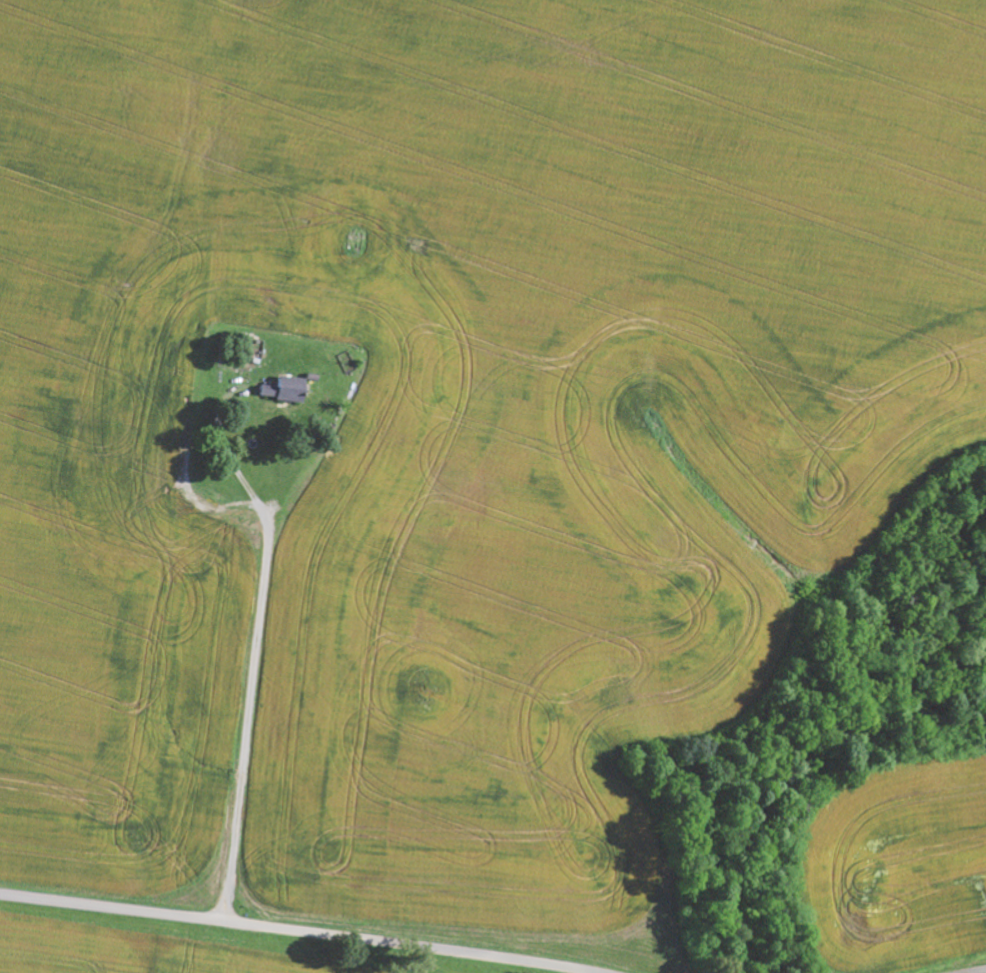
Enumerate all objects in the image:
road: (291, 932)

